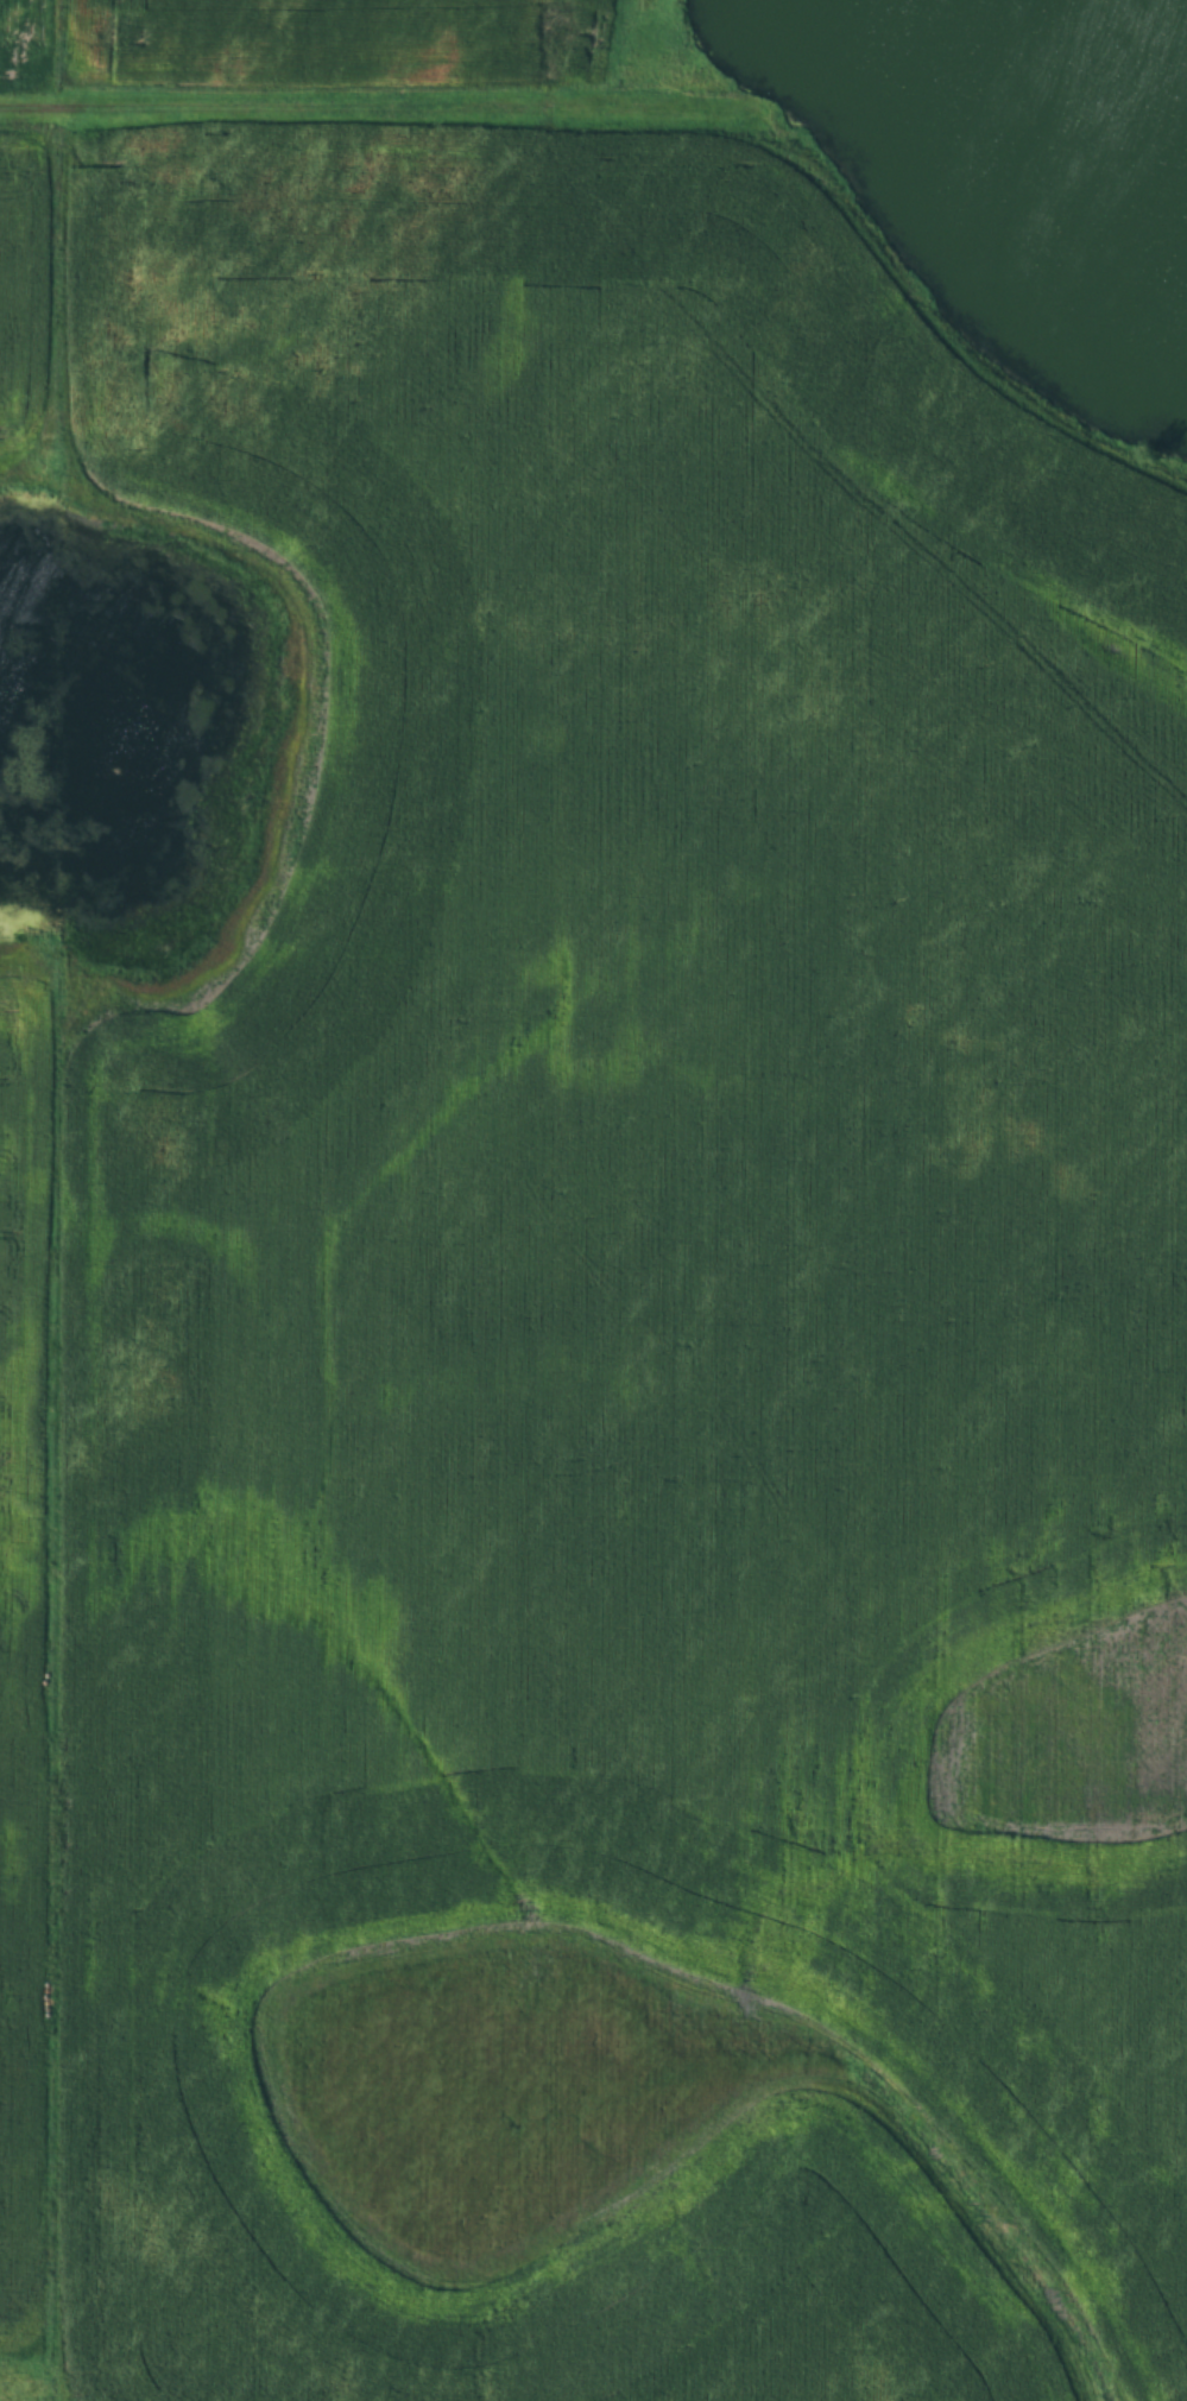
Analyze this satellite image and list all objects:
road: (593, 113)

